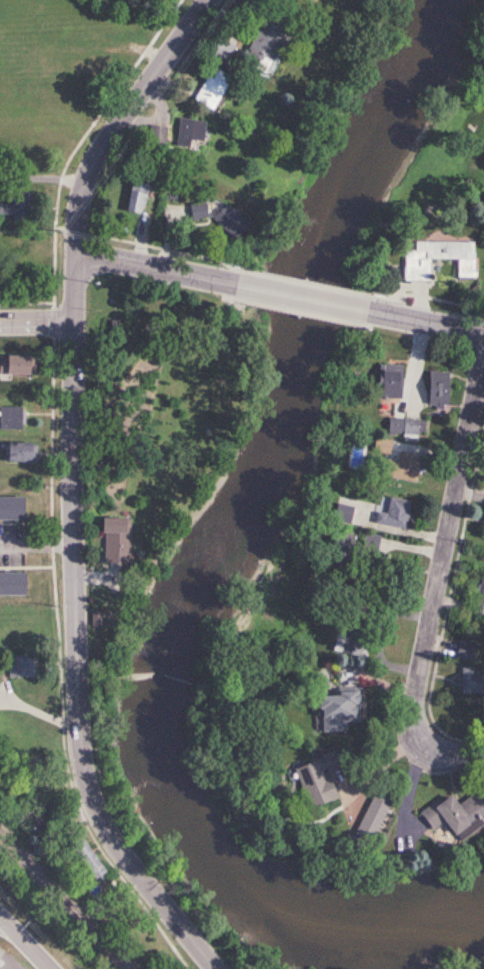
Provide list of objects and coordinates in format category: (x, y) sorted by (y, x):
building: (265, 41)
building: (222, 50)
building: (210, 88)
building: (188, 133)
building: (156, 135)
road: (9, 174)
road: (52, 176)
road: (9, 185)
building: (135, 197)
building: (14, 206)
building: (196, 210)
building: (227, 221)
building: (436, 257)
road: (154, 266)
road: (300, 297)
road: (36, 323)
road: (425, 323)
building: (15, 364)
building: (388, 381)
building: (437, 389)
building: (10, 418)
building: (405, 427)
building: (380, 447)
building: (18, 452)
building: (400, 466)
road: (67, 484)
building: (10, 508)
building: (390, 515)
building: (111, 540)
road: (32, 544)
building: (366, 544)
river: (210, 571)
building: (10, 584)
road: (436, 597)
building: (480, 597)
building: (351, 638)
building: (466, 649)
building: (15, 666)
building: (470, 680)
building: (337, 710)
building: (316, 779)
building: (455, 811)
building: (373, 812)
building: (84, 859)
railway: (60, 904)
road: (22, 945)

